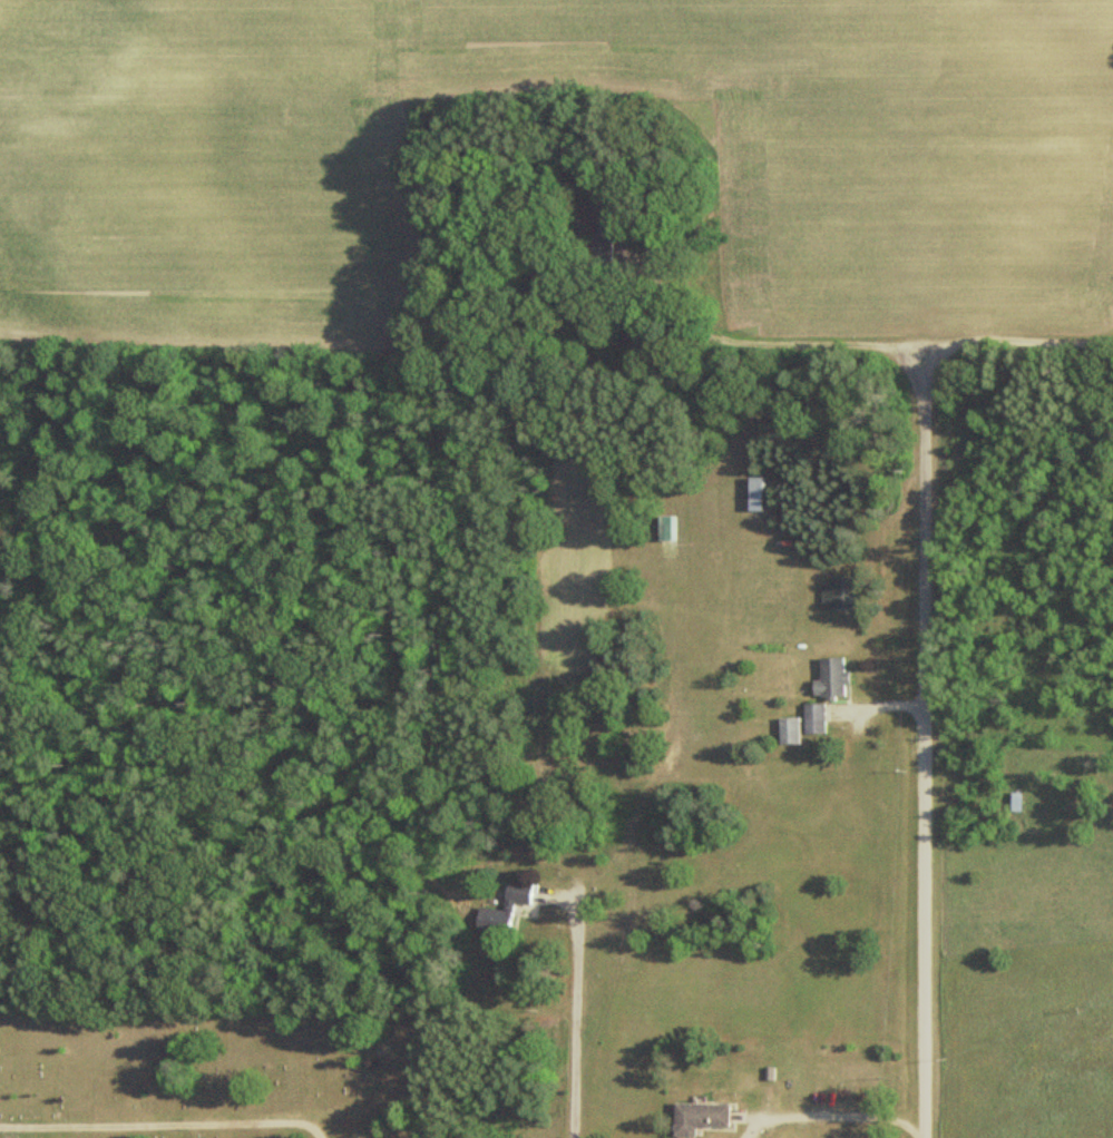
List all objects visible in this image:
road: (902, 347)
building: (751, 493)
building: (836, 592)
building: (827, 678)
building: (811, 717)
building: (785, 730)
road: (922, 743)
building: (516, 892)
building: (489, 921)
road: (574, 1012)
park: (215, 1069)
road: (833, 1115)
building: (695, 1118)
road: (164, 1121)

